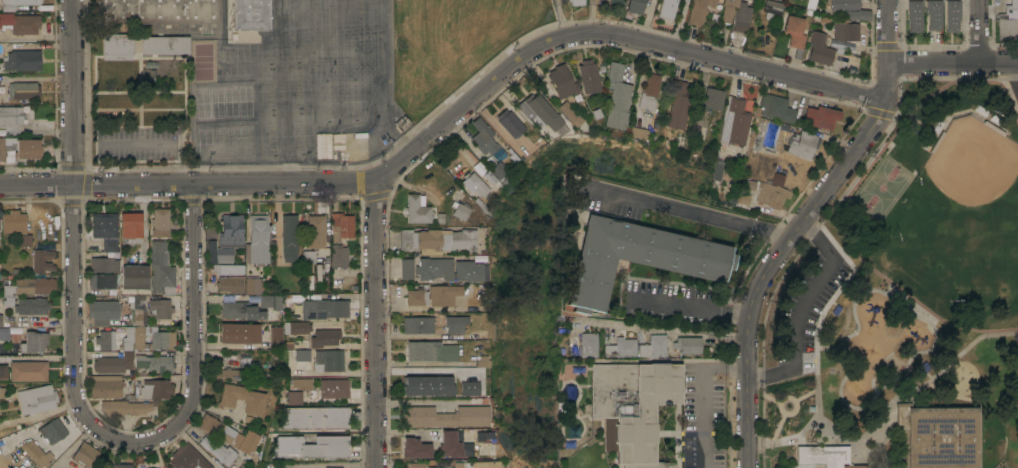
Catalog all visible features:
building: (575, 2)
building: (1017, 2)
building: (16, 3)
building: (633, 6)
building: (773, 7)
building: (671, 8)
building: (851, 9)
building: (156, 11)
building: (697, 11)
building: (932, 14)
building: (249, 15)
building: (735, 15)
building: (914, 15)
building: (951, 15)
building: (1008, 21)
building: (21, 23)
building: (845, 30)
road: (980, 31)
road: (888, 32)
building: (795, 33)
building: (165, 45)
building: (118, 47)
building: (819, 48)
building: (22, 60)
road: (953, 62)
road: (1013, 73)
building: (587, 76)
building: (560, 81)
building: (23, 90)
building: (647, 92)
building: (614, 97)
building: (711, 98)
building: (675, 105)
building: (776, 108)
building: (567, 113)
building: (11, 115)
building: (537, 115)
building: (821, 116)
road: (450, 121)
building: (733, 121)
building: (402, 123)
building: (513, 125)
road: (894, 134)
building: (482, 137)
building: (338, 140)
building: (803, 144)
building: (326, 145)
building: (7, 148)
building: (27, 148)
building: (495, 170)
building: (479, 175)
building: (777, 178)
building: (472, 183)
building: (770, 195)
building: (417, 209)
building: (458, 209)
road: (686, 211)
building: (13, 222)
building: (160, 223)
building: (130, 225)
building: (341, 226)
building: (106, 229)
building: (231, 230)
building: (316, 231)
road: (73, 237)
building: (289, 239)
building: (436, 239)
building: (25, 240)
building: (257, 241)
road: (779, 252)
building: (224, 255)
building: (339, 257)
building: (638, 257)
building: (42, 260)
building: (103, 264)
building: (228, 268)
building: (406, 268)
building: (432, 268)
building: (161, 269)
building: (465, 271)
building: (134, 279)
building: (102, 281)
building: (30, 283)
building: (230, 284)
building: (253, 286)
building: (394, 291)
building: (441, 294)
building: (416, 297)
park: (907, 300)
road: (908, 302)
building: (32, 306)
building: (159, 306)
building: (248, 306)
road: (800, 306)
road: (689, 308)
building: (323, 309)
building: (139, 311)
building: (102, 312)
building: (1, 320)
building: (452, 323)
building: (417, 324)
road: (375, 325)
building: (296, 327)
road: (1002, 328)
building: (9, 331)
road: (668, 331)
road: (194, 332)
building: (239, 333)
building: (154, 337)
building: (276, 337)
building: (324, 337)
building: (127, 338)
building: (105, 340)
building: (34, 342)
building: (688, 344)
building: (653, 346)
building: (585, 347)
building: (621, 348)
building: (429, 351)
building: (301, 354)
building: (478, 361)
building: (154, 362)
building: (327, 362)
building: (113, 363)
building: (28, 370)
building: (426, 371)
building: (2, 373)
building: (228, 374)
building: (421, 381)
building: (302, 383)
building: (105, 386)
building: (458, 387)
building: (334, 388)
building: (155, 389)
building: (2, 393)
road: (701, 393)
building: (291, 397)
building: (243, 398)
building: (34, 399)
building: (635, 405)
building: (124, 407)
building: (443, 416)
building: (315, 418)
building: (53, 430)
building: (231, 436)
building: (936, 437)
road: (835, 438)
building: (447, 444)
road: (194, 447)
building: (311, 447)
building: (414, 448)
building: (219, 451)
building: (36, 453)
building: (85, 455)
building: (826, 456)
building: (187, 458)
building: (481, 464)
building: (122, 465)
building: (415, 465)
building: (333, 467)
building: (442, 467)

